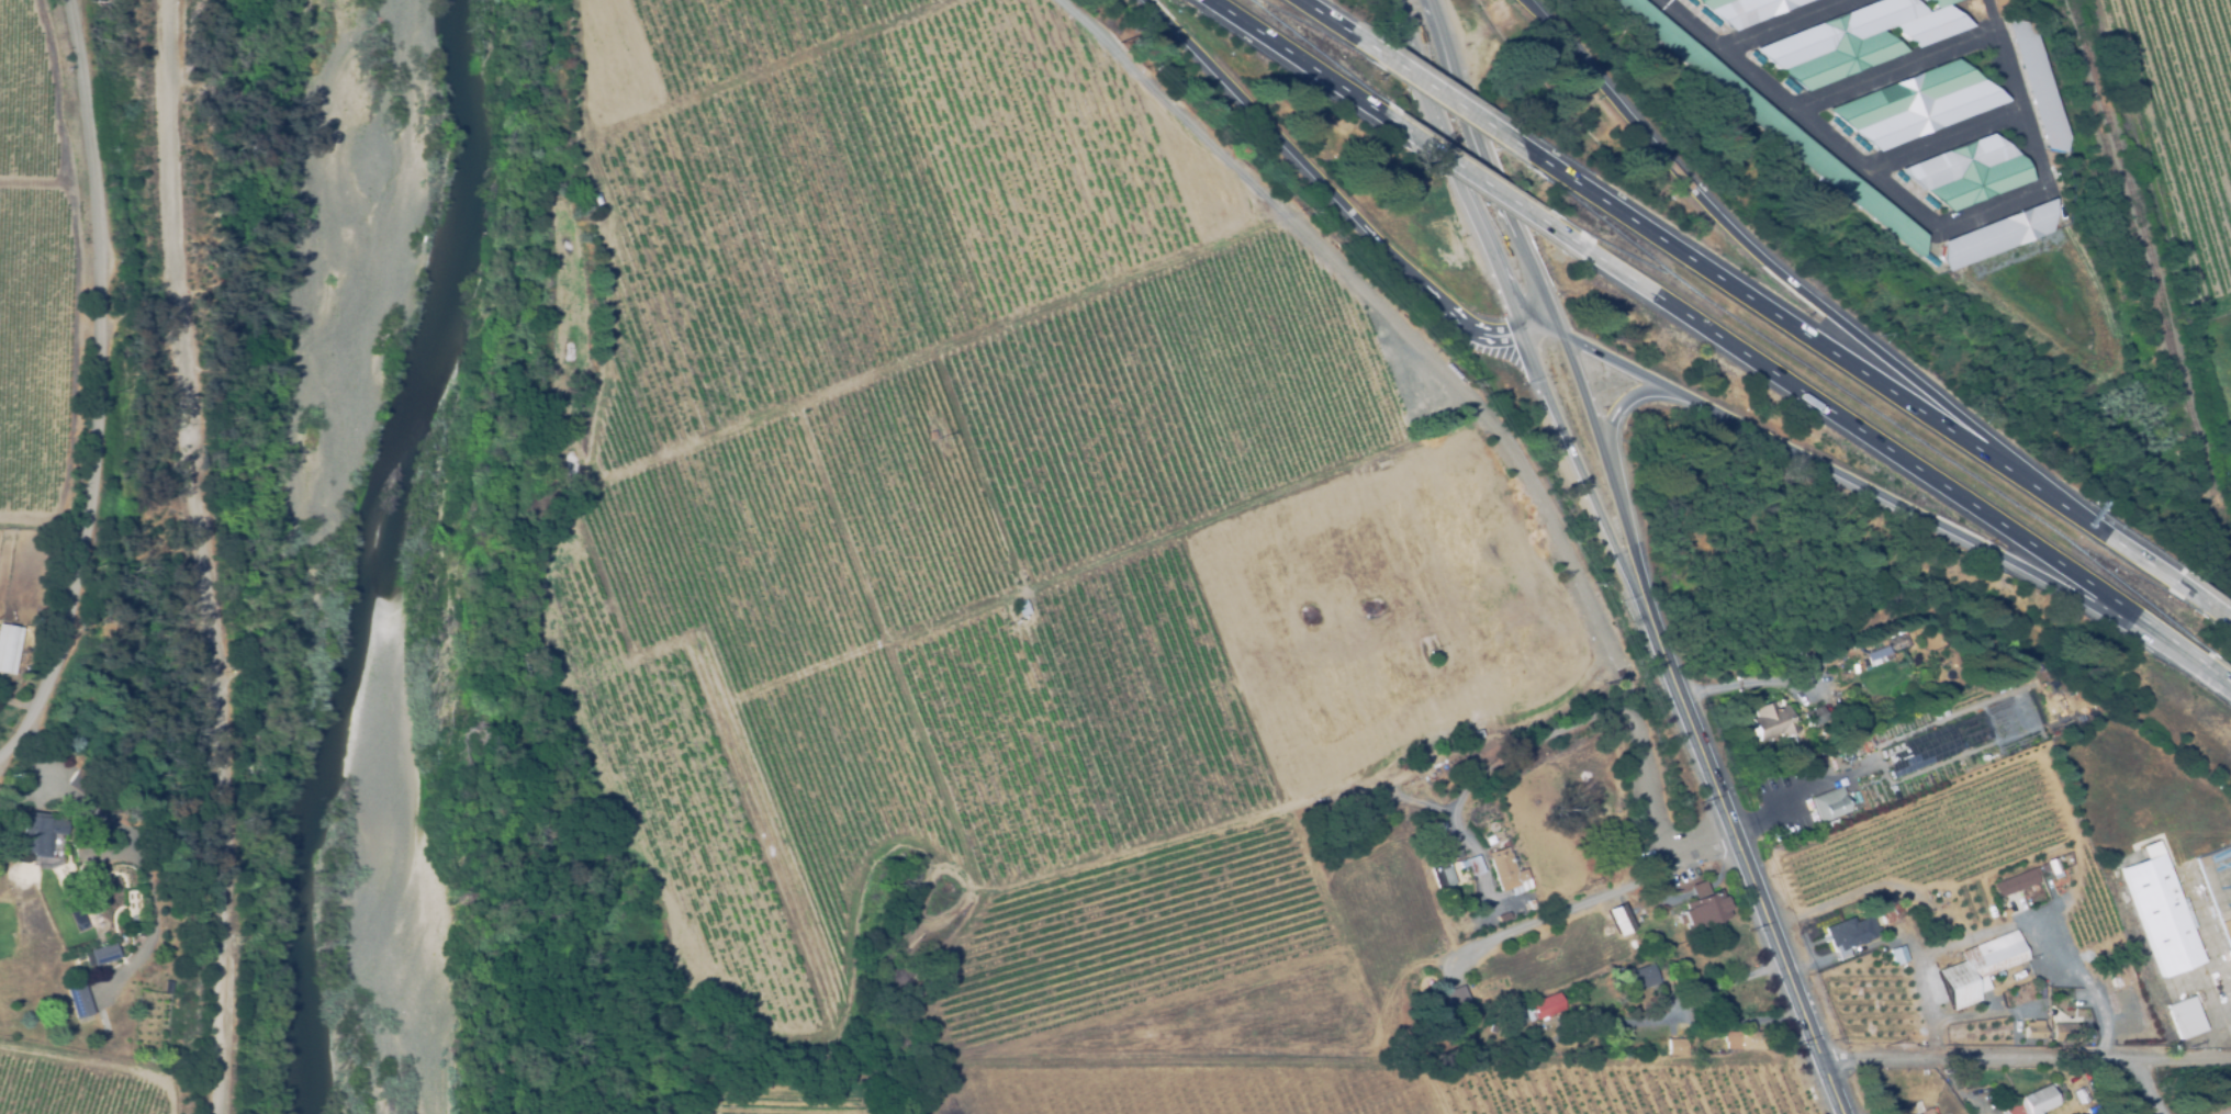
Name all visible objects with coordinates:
building: (1745, 9)
road: (1328, 18)
building: (1859, 38)
road: (1298, 59)
road: (1421, 67)
road: (1461, 76)
building: (2039, 82)
road: (1454, 99)
building: (1917, 103)
building: (1773, 122)
road: (1297, 155)
building: (1970, 170)
road: (1481, 181)
building: (596, 201)
road: (1909, 213)
building: (1996, 233)
road: (1531, 247)
road: (1759, 256)
railway: (2140, 279)
road: (1790, 323)
road: (1506, 336)
road: (1539, 380)
road: (1512, 384)
road: (97, 386)
road: (1630, 407)
road: (1890, 452)
road: (1614, 479)
road: (1888, 498)
road: (2110, 537)
road: (220, 554)
river: (350, 554)
river: (367, 554)
river: (399, 555)
road: (149, 560)
road: (2211, 604)
building: (1022, 605)
building: (9, 646)
building: (26, 665)
road: (2218, 669)
building: (1922, 674)
building: (2019, 677)
building: (2010, 682)
building: (12, 684)
road: (1745, 684)
building: (2003, 686)
road: (1604, 713)
building: (1815, 720)
building: (1770, 722)
building: (1478, 735)
building: (1917, 749)
building: (82, 784)
building: (1829, 804)
building: (1442, 822)
building: (37, 835)
road: (1746, 866)
building: (1504, 867)
building: (2050, 868)
building: (1440, 877)
building: (2017, 882)
building: (2217, 887)
road: (1587, 903)
building: (1703, 909)
building: (2161, 915)
building: (1890, 916)
building: (1623, 920)
building: (1849, 935)
road: (1895, 939)
road: (1962, 942)
building: (103, 954)
road: (1847, 954)
road: (1936, 954)
building: (1897, 956)
road: (1815, 967)
building: (1978, 969)
building: (2119, 975)
building: (1646, 977)
building: (170, 984)
road: (1699, 990)
building: (2042, 990)
building: (79, 1000)
building: (1449, 1003)
building: (1540, 1009)
road: (1933, 1011)
building: (2185, 1019)
building: (2076, 1031)
building: (2037, 1034)
building: (1744, 1040)
building: (1677, 1048)
building: (1541, 1050)
road: (2025, 1060)
building: (2087, 1076)
road: (2150, 1087)
building: (2042, 1099)
building: (2082, 1099)
building: (1917, 1107)
road: (2228, 1112)

